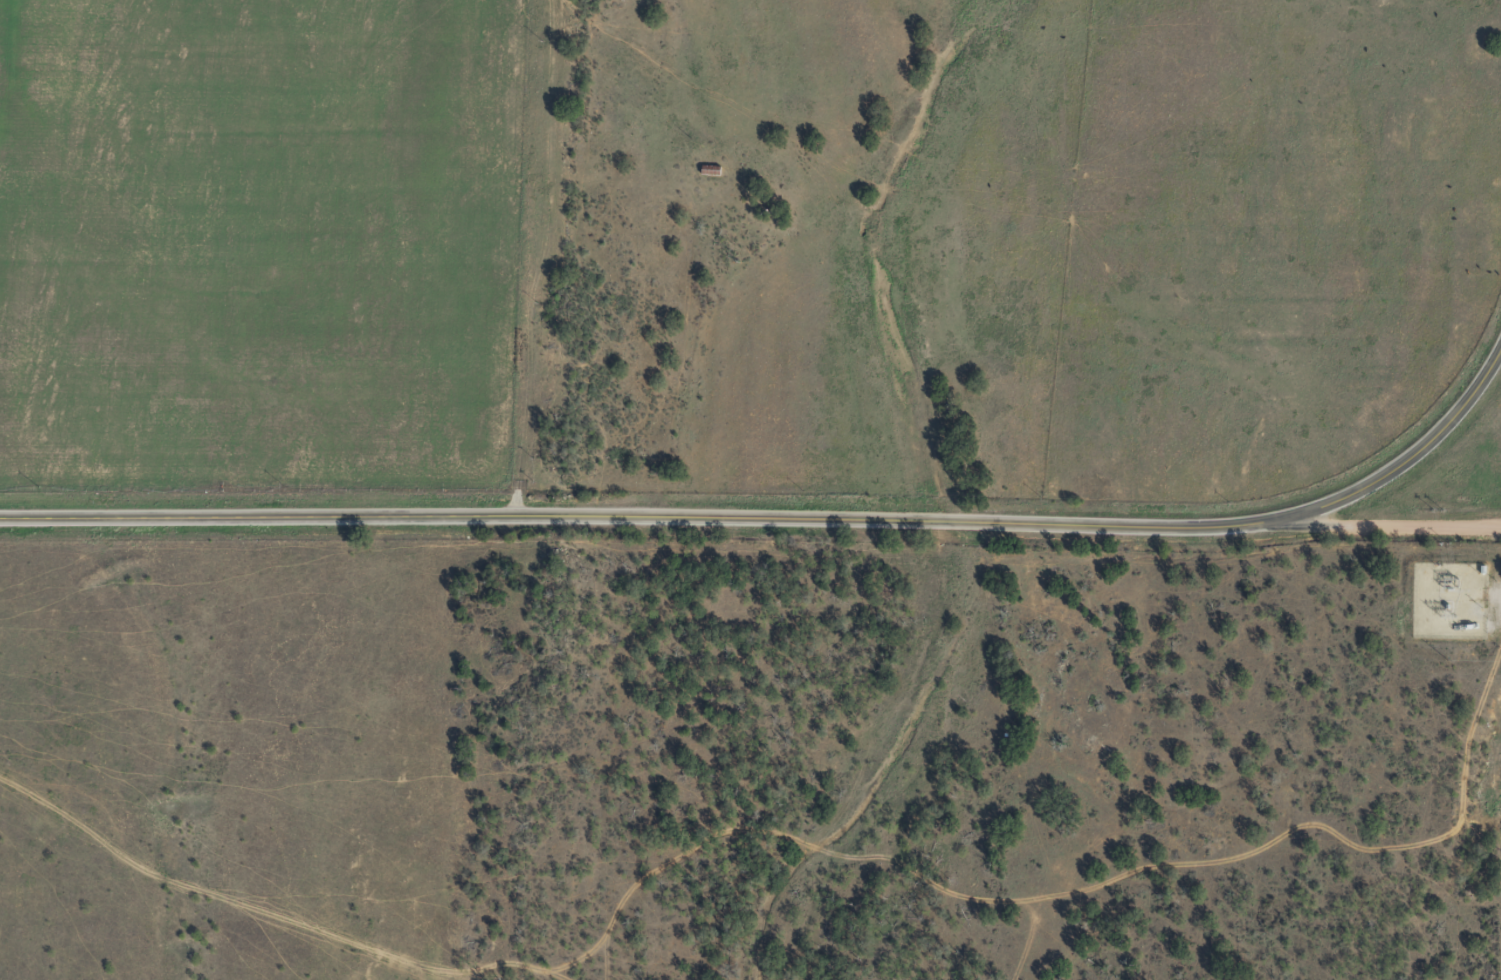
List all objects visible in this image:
road: (784, 520)
road: (1392, 524)
power substation: (1448, 598)

